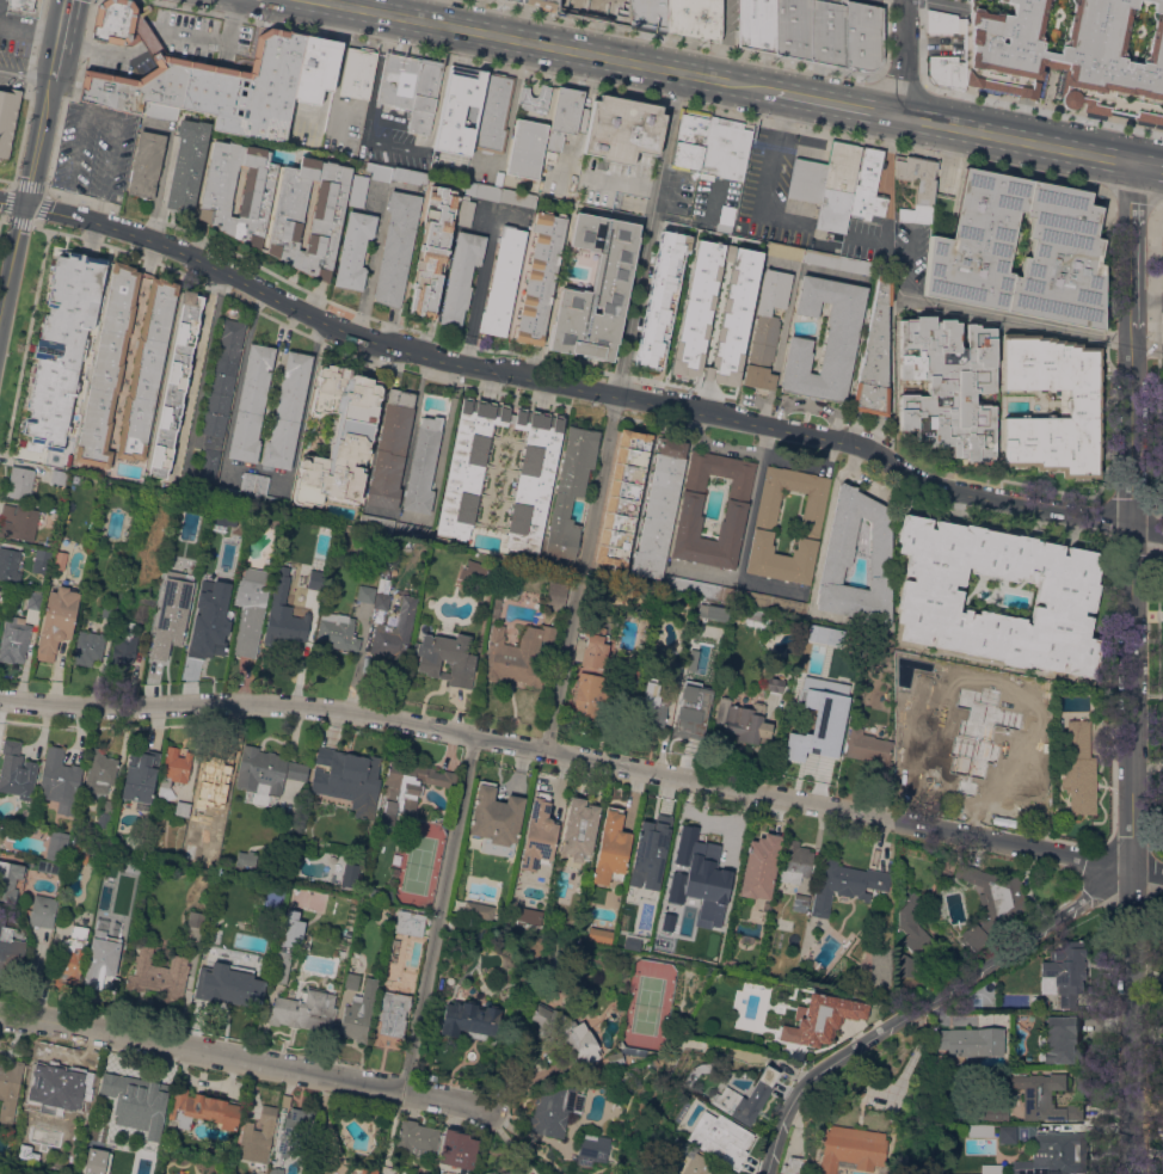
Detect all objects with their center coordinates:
building: (517, 0)
road: (946, 2)
building: (543, 4)
building: (19, 5)
road: (388, 6)
building: (598, 10)
road: (234, 11)
building: (648, 14)
building: (694, 18)
road: (62, 21)
building: (943, 21)
building: (755, 25)
building: (792, 27)
road: (30, 31)
road: (162, 31)
building: (826, 32)
building: (861, 35)
parking lot: (201, 36)
road: (507, 36)
road: (673, 39)
road: (885, 42)
road: (921, 42)
road: (924, 45)
road: (69, 48)
road: (341, 49)
building: (1065, 51)
road: (379, 56)
parking lot: (116, 57)
road: (903, 57)
road: (54, 62)
building: (316, 68)
building: (946, 72)
road: (25, 73)
building: (357, 73)
road: (703, 75)
building: (199, 79)
road: (897, 81)
road: (747, 85)
building: (411, 86)
road: (633, 93)
road: (512, 97)
building: (535, 98)
road: (832, 102)
road: (583, 105)
road: (1042, 109)
building: (460, 110)
road: (103, 113)
building: (493, 115)
building: (6, 116)
building: (565, 116)
road: (780, 117)
building: (1147, 117)
building: (622, 129)
parking lot: (358, 131)
road: (1015, 139)
road: (373, 143)
building: (712, 145)
building: (527, 148)
parking lot: (93, 152)
building: (550, 158)
building: (146, 165)
building: (187, 165)
parking lot: (470, 166)
road: (1149, 166)
building: (379, 171)
road: (162, 173)
building: (410, 176)
road: (767, 182)
parking lot: (593, 184)
road: (613, 184)
building: (826, 184)
building: (868, 186)
building: (917, 186)
building: (358, 190)
road: (653, 191)
parking lot: (753, 192)
road: (1133, 193)
building: (499, 195)
road: (25, 197)
road: (1161, 201)
traffic signals: (24, 204)
building: (277, 204)
building: (464, 210)
road: (648, 233)
building: (728, 238)
parking lot: (1162, 246)
building: (396, 247)
parking lot: (887, 247)
building: (968, 247)
building: (355, 248)
building: (784, 251)
building: (431, 252)
road: (369, 260)
building: (838, 262)
building: (695, 265)
road: (781, 268)
building: (461, 276)
building: (540, 276)
building: (753, 277)
building: (503, 282)
building: (596, 289)
road: (478, 290)
building: (662, 297)
road: (1146, 302)
building: (1162, 322)
road: (1030, 324)
building: (767, 328)
building: (691, 331)
building: (841, 338)
building: (731, 339)
building: (61, 346)
building: (228, 346)
road: (780, 349)
building: (874, 356)
road: (193, 363)
building: (103, 369)
building: (144, 369)
building: (221, 382)
building: (173, 383)
building: (947, 386)
road: (574, 388)
building: (217, 402)
building: (251, 404)
road: (808, 407)
building: (1082, 407)
building: (285, 411)
road: (411, 419)
building: (213, 424)
building: (339, 436)
road: (716, 443)
building: (670, 448)
building: (390, 449)
road: (807, 463)
building: (421, 465)
building: (209, 466)
road: (853, 474)
building: (533, 479)
building: (19, 481)
building: (253, 482)
building: (568, 491)
building: (621, 498)
building: (737, 500)
road: (750, 503)
road: (1130, 515)
building: (657, 516)
building: (764, 518)
building: (18, 521)
building: (836, 557)
building: (37, 563)
building: (8, 564)
building: (468, 576)
road: (579, 576)
building: (314, 580)
road: (736, 580)
building: (554, 592)
building: (363, 594)
building: (930, 595)
building: (770, 600)
building: (29, 602)
building: (379, 602)
building: (247, 608)
building: (493, 608)
building: (710, 611)
building: (171, 613)
building: (139, 614)
building: (209, 617)
building: (283, 617)
building: (56, 621)
building: (1162, 621)
building: (333, 632)
building: (389, 632)
building: (13, 639)
building: (122, 643)
building: (85, 649)
building: (443, 658)
building: (518, 658)
building: (592, 660)
building: (687, 675)
building: (769, 686)
building: (587, 696)
building: (695, 700)
building: (652, 702)
road: (198, 706)
building: (825, 721)
building: (745, 725)
road: (436, 732)
building: (1075, 740)
building: (862, 745)
road: (509, 748)
building: (805, 749)
building: (1022, 763)
building: (174, 767)
building: (952, 767)
building: (267, 769)
building: (16, 770)
building: (211, 773)
building: (99, 774)
building: (140, 774)
building: (439, 777)
building: (347, 779)
building: (60, 780)
building: (402, 785)
building: (1079, 788)
building: (420, 791)
building: (106, 805)
building: (181, 807)
building: (219, 813)
road: (853, 815)
building: (496, 818)
building: (103, 819)
building: (578, 830)
building: (539, 835)
building: (651, 843)
building: (611, 848)
building: (153, 852)
building: (54, 853)
building: (80, 853)
building: (246, 858)
building: (704, 859)
building: (133, 862)
building: (795, 862)
building: (759, 865)
building: (156, 868)
building: (347, 874)
building: (8, 879)
building: (845, 885)
building: (374, 892)
building: (384, 895)
building: (800, 903)
building: (990, 903)
building: (478, 910)
building: (42, 911)
road: (439, 917)
building: (196, 918)
building: (410, 922)
building: (911, 923)
building: (473, 930)
building: (599, 935)
building: (287, 946)
building: (10, 949)
building: (392, 949)
building: (69, 958)
building: (101, 960)
building: (904, 965)
building: (1065, 971)
building: (158, 975)
building: (351, 981)
building: (232, 985)
road: (1133, 985)
road: (928, 1002)
building: (304, 1010)
building: (358, 1013)
building: (823, 1018)
building: (390, 1019)
building: (469, 1020)
building: (567, 1037)
building: (1062, 1040)
building: (970, 1041)
building: (633, 1051)
building: (615, 1059)
road: (244, 1063)
building: (55, 1088)
building: (8, 1089)
building: (1044, 1096)
building: (745, 1098)
building: (136, 1101)
building: (201, 1110)
building: (555, 1111)
building: (980, 1130)
building: (295, 1133)
building: (1007, 1133)
building: (257, 1136)
building: (719, 1137)
building: (416, 1138)
road: (1133, 1138)
building: (591, 1145)
building: (850, 1149)
building: (457, 1150)
building: (1056, 1155)
building: (98, 1158)
building: (696, 1162)
building: (793, 1166)
building: (276, 1170)
building: (363, 1170)
building: (513, 1170)
building: (488, 1173)

